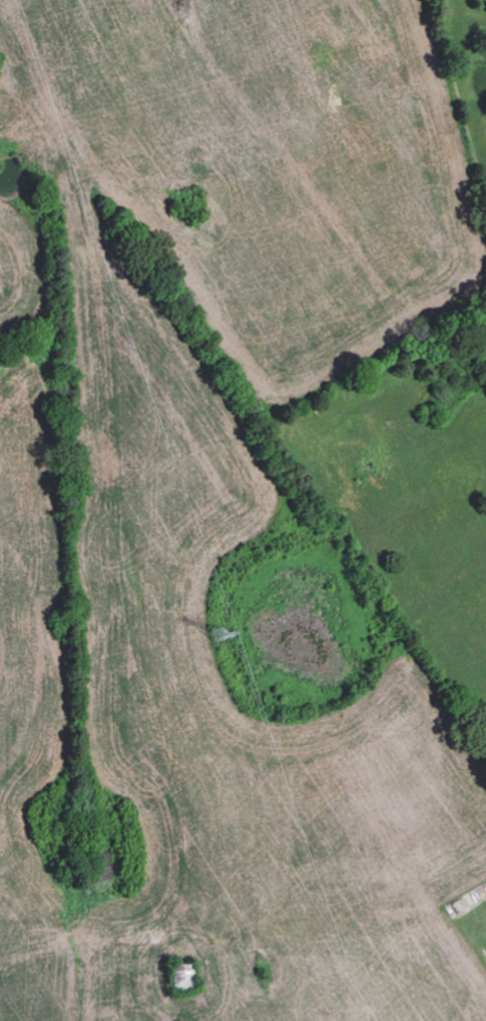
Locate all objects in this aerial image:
building: (181, 975)

